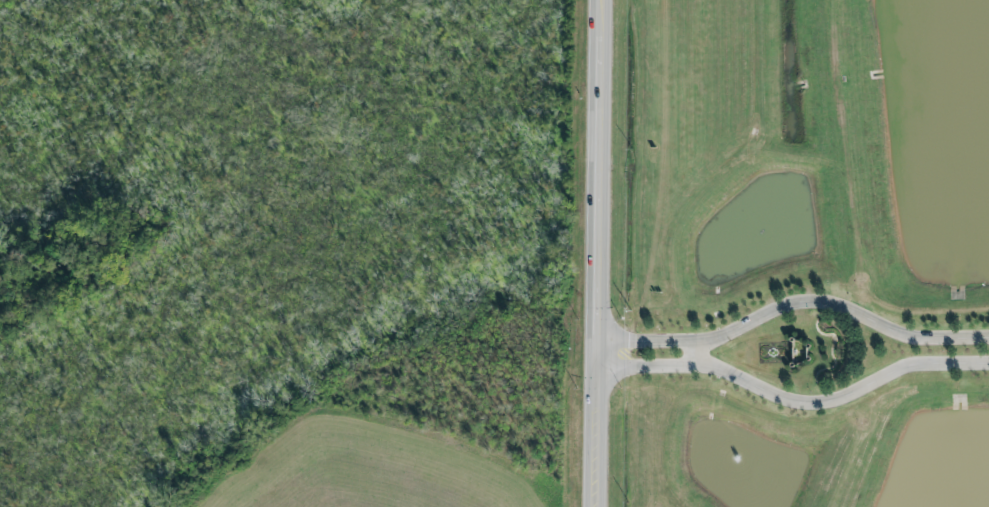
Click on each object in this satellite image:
road: (600, 253)
road: (793, 301)
road: (793, 400)

